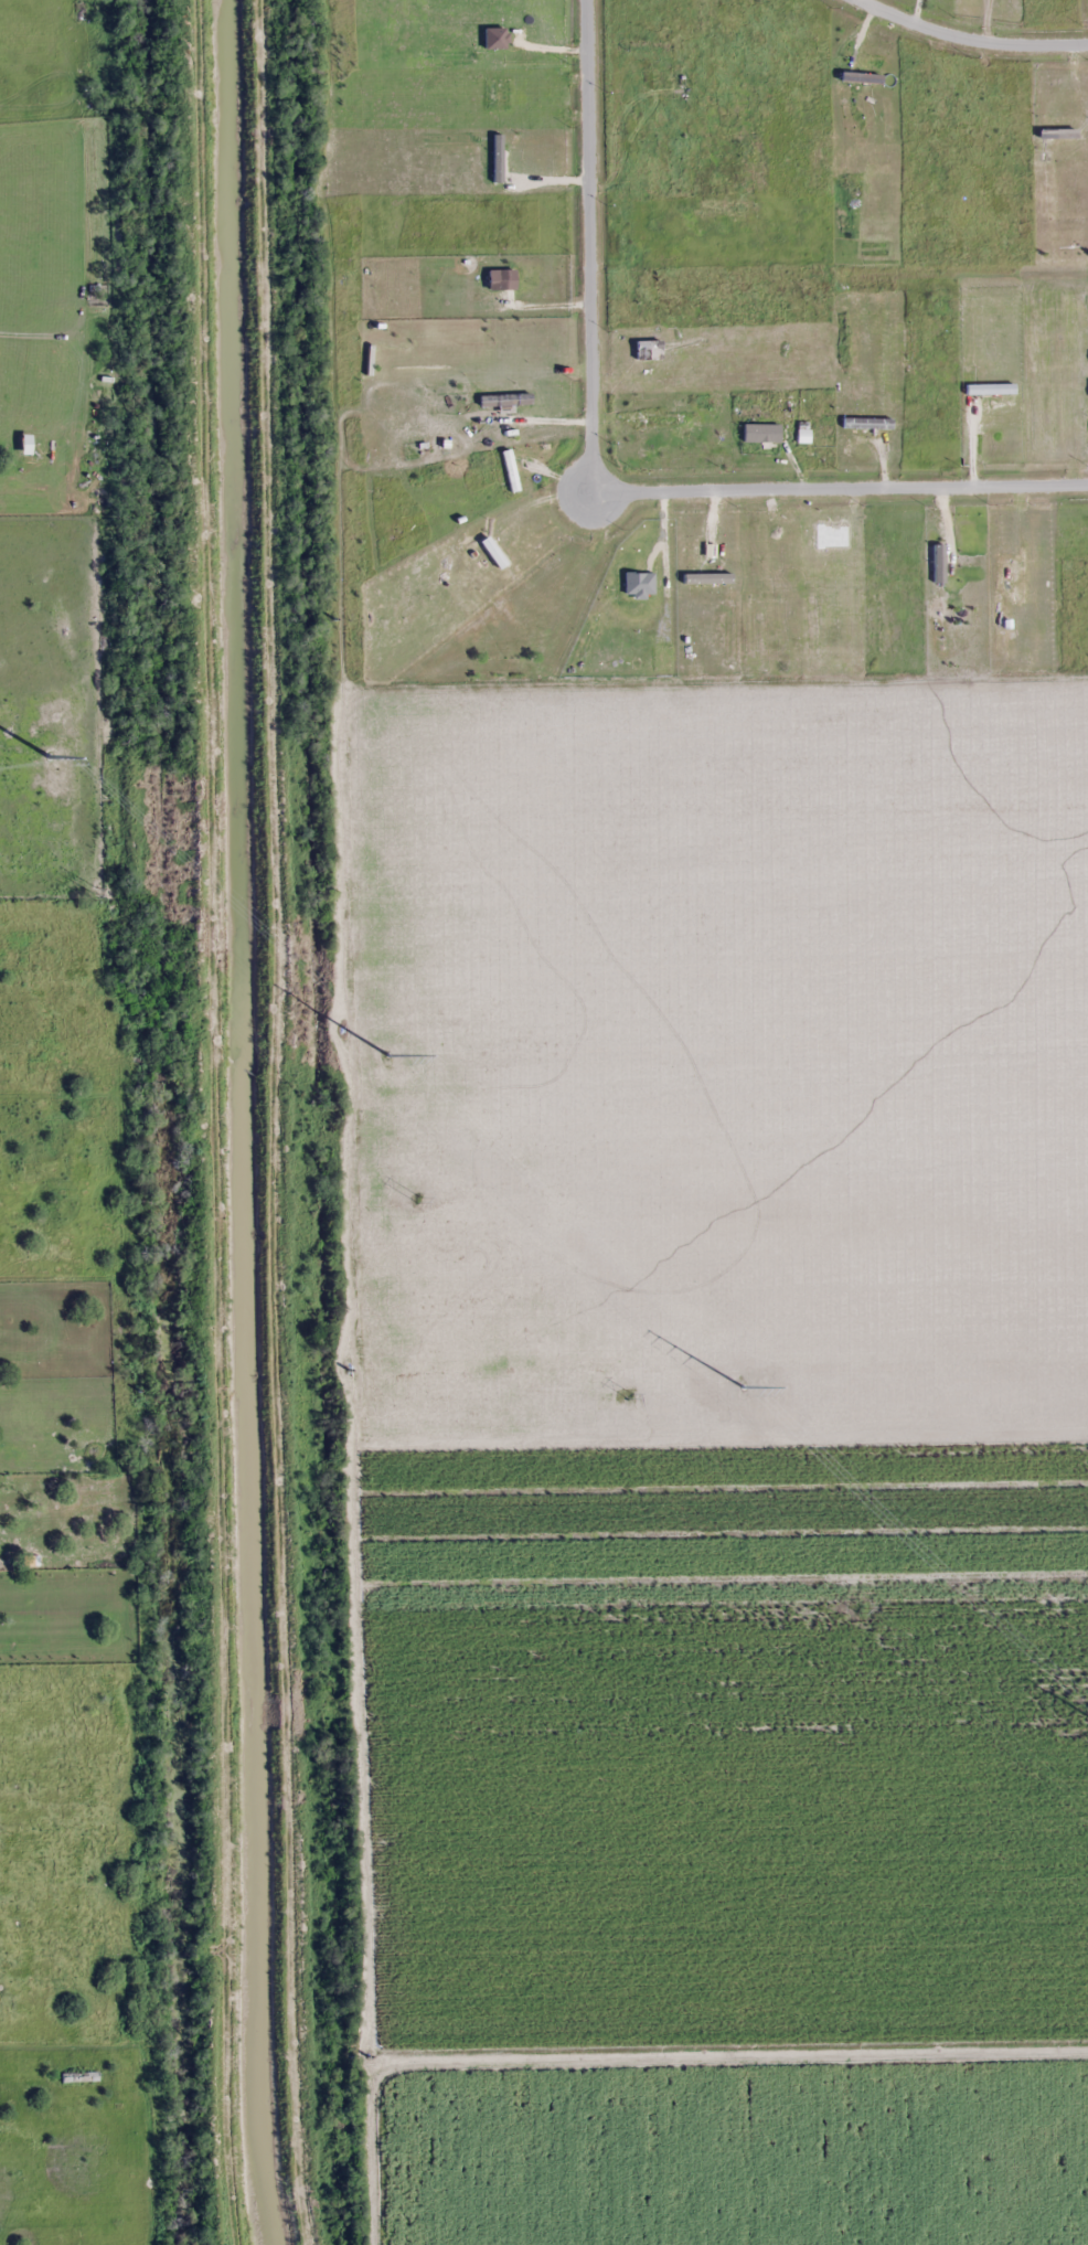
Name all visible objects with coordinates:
power tower: (51, 756)
power tower: (93, 892)
power tower: (388, 1054)
power tower: (417, 1198)
power tower: (746, 1387)
power tower: (629, 1394)
power tower: (858, 1608)

